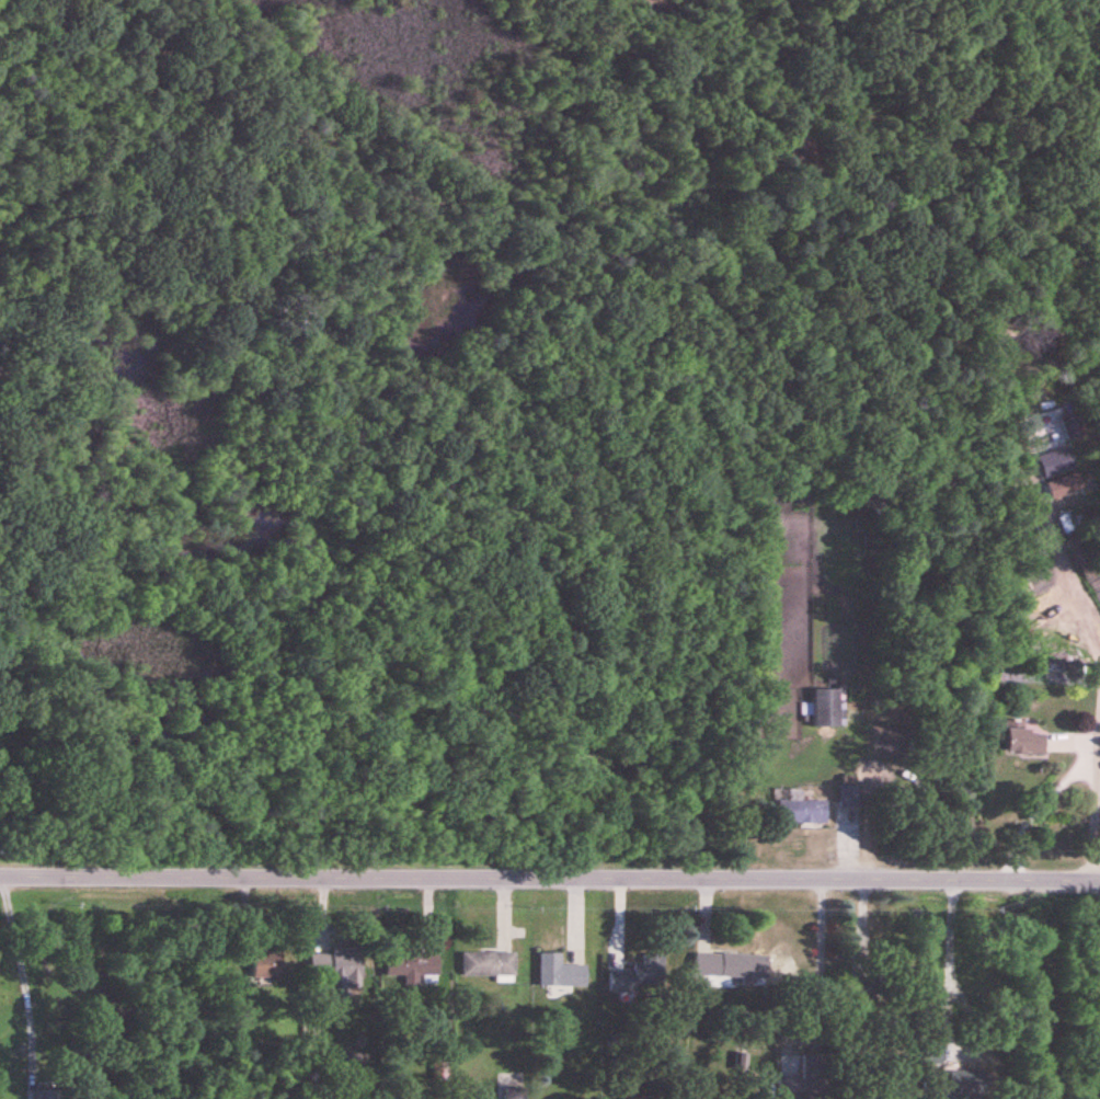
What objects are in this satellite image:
building: (1082, 562)
building: (826, 709)
building: (1022, 741)
road: (1074, 774)
building: (848, 793)
building: (801, 812)
road: (549, 879)
road: (949, 959)
building: (488, 965)
building: (267, 966)
building: (725, 966)
building: (335, 968)
building: (413, 969)
building: (560, 973)
building: (639, 974)
road: (1009, 989)
building: (969, 1081)
building: (515, 1094)
building: (47, 1095)

